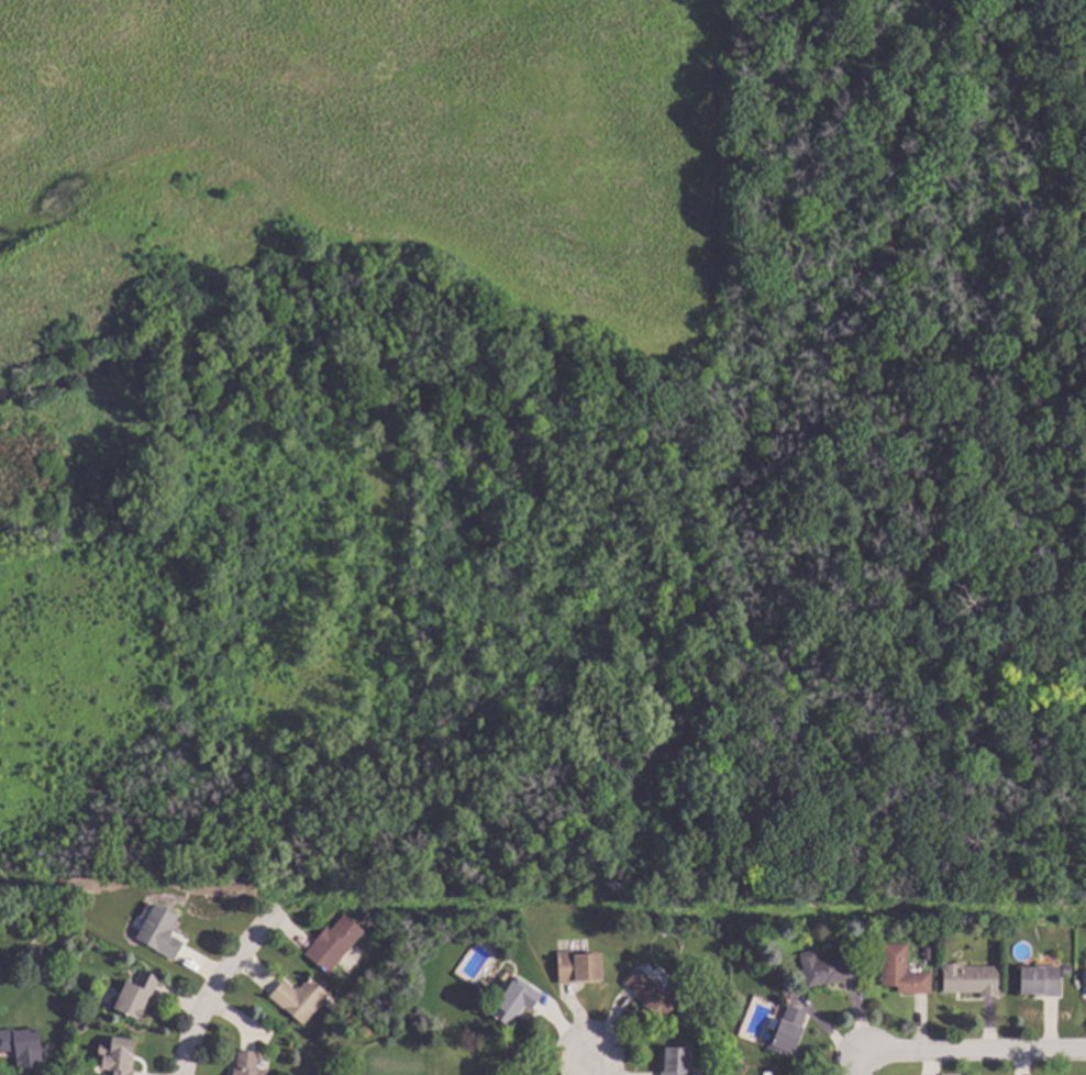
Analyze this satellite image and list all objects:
building: (162, 932)
building: (334, 943)
building: (928, 953)
building: (579, 967)
building: (830, 967)
building: (902, 971)
building: (972, 979)
building: (1042, 979)
building: (1085, 982)
road: (217, 990)
building: (785, 991)
building: (137, 994)
building: (654, 994)
building: (300, 998)
building: (517, 1001)
building: (787, 1031)
building: (24, 1045)
road: (973, 1052)
building: (119, 1055)
building: (676, 1062)
road: (858, 1063)
building: (248, 1064)
road: (596, 1066)

